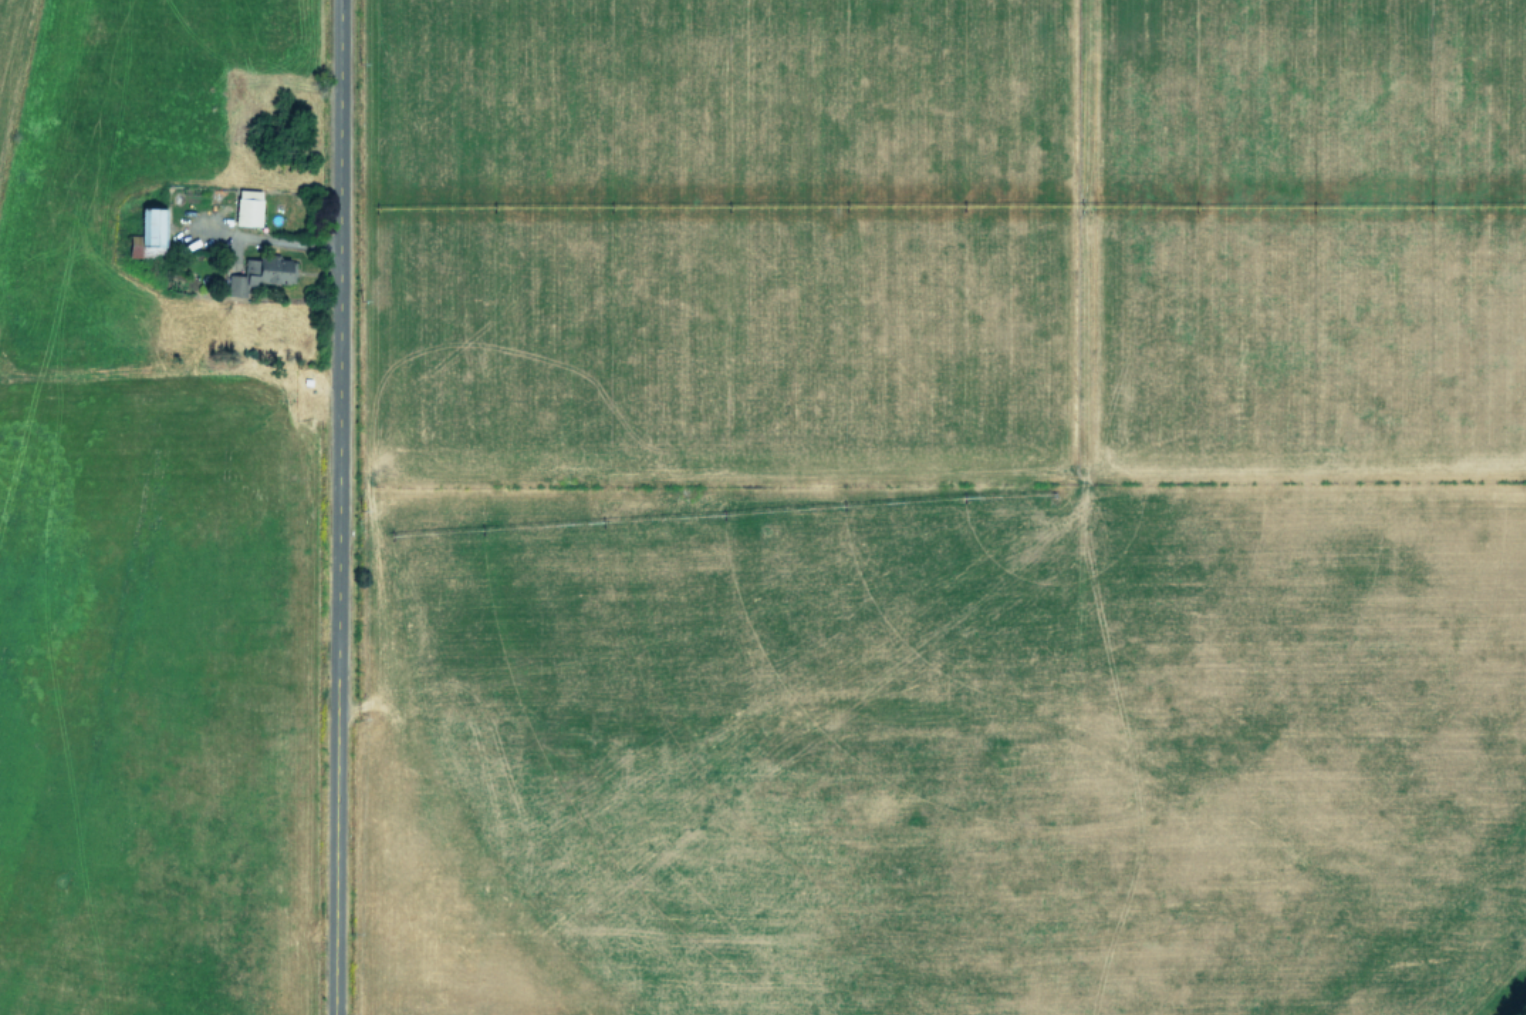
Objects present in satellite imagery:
building: (248, 208)
building: (149, 235)
road: (279, 239)
building: (262, 272)
road: (335, 507)
crop: (763, 507)

